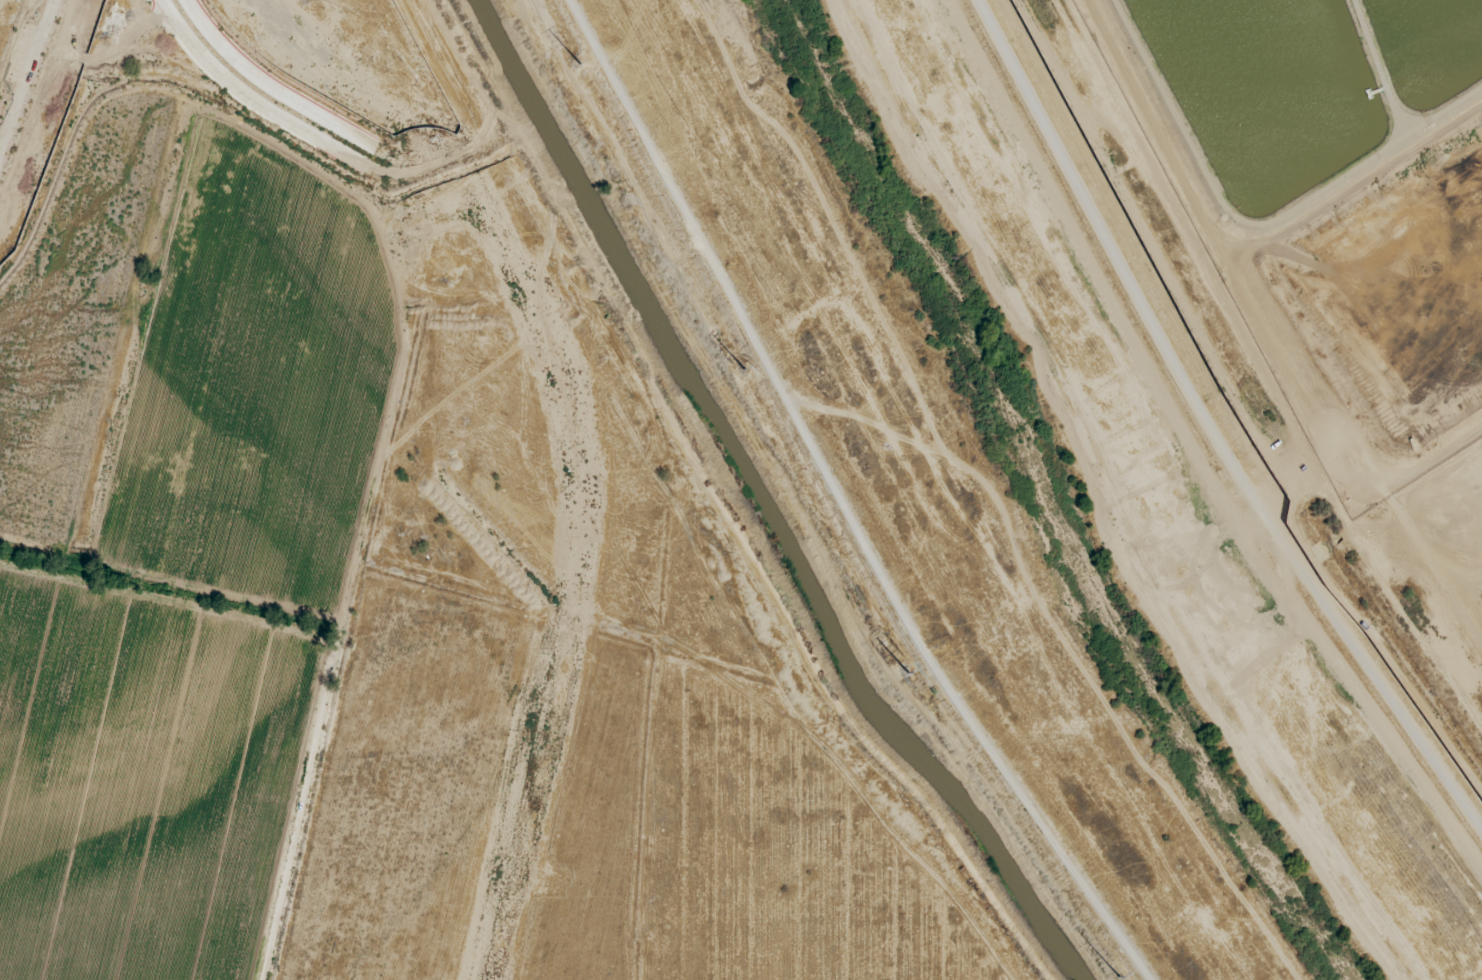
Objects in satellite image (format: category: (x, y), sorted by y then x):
power tower: (579, 59)
road: (27, 73)
road: (249, 90)
power tower: (743, 367)
road: (842, 500)
river: (1052, 502)
road: (707, 514)
power tower: (908, 672)
power tower: (1116, 974)

